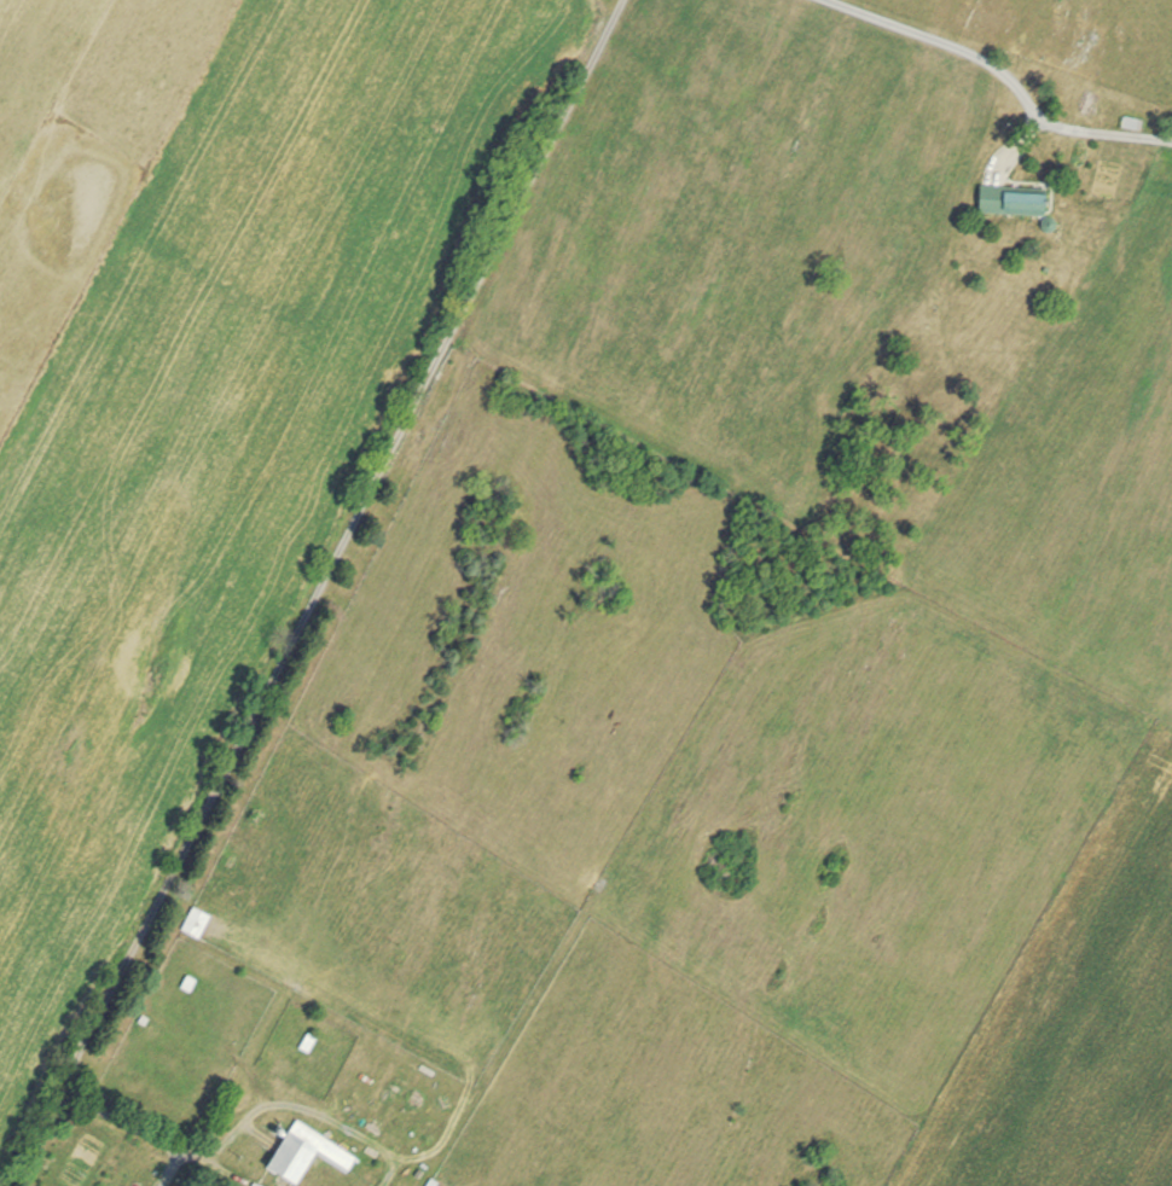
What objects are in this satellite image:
road: (1008, 72)
road: (320, 595)

